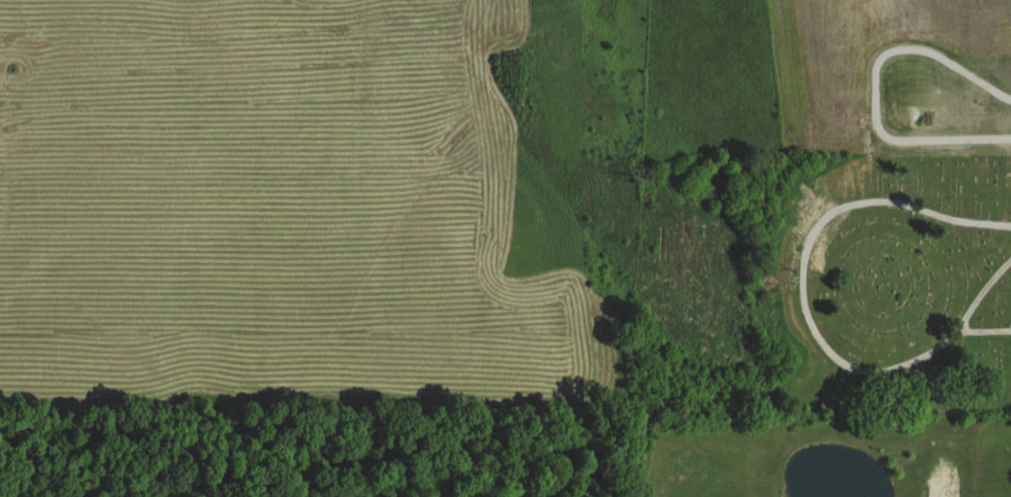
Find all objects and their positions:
road: (617, 41)

